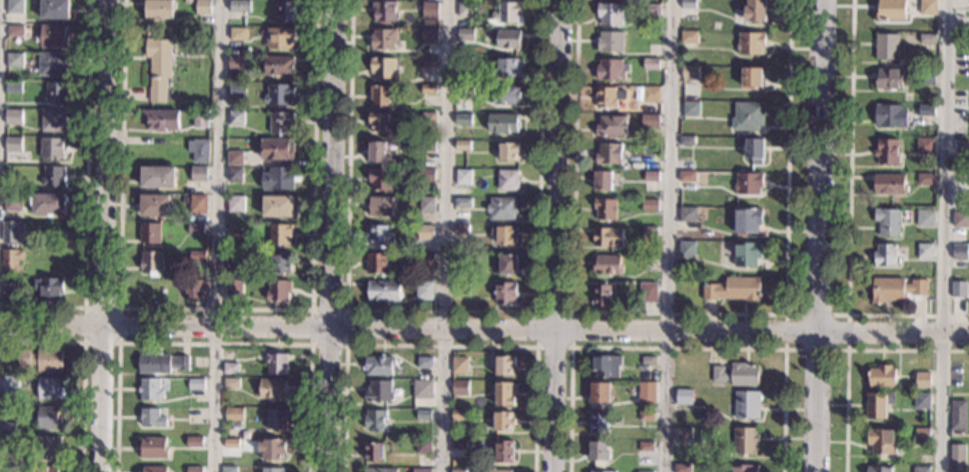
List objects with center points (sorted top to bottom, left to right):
building: (188, 2)
building: (689, 4)
building: (239, 6)
building: (14, 7)
building: (203, 7)
building: (925, 7)
building: (466, 8)
building: (54, 9)
building: (159, 9)
building: (652, 10)
building: (891, 10)
building: (284, 11)
building: (430, 11)
building: (755, 11)
building: (385, 12)
building: (509, 12)
building: (609, 14)
building: (14, 30)
building: (238, 33)
building: (465, 34)
building: (53, 36)
building: (430, 36)
building: (689, 37)
building: (280, 38)
building: (927, 38)
building: (383, 40)
building: (508, 40)
building: (609, 41)
building: (751, 43)
building: (887, 47)
building: (14, 60)
building: (237, 62)
building: (429, 63)
building: (53, 64)
building: (650, 64)
building: (464, 65)
building: (278, 66)
building: (158, 67)
building: (383, 67)
building: (507, 68)
building: (610, 70)
building: (689, 75)
building: (752, 77)
building: (926, 77)
building: (888, 79)
building: (13, 87)
building: (428, 89)
building: (464, 90)
building: (236, 91)
building: (56, 92)
building: (279, 94)
building: (505, 95)
building: (650, 95)
building: (380, 96)
building: (607, 98)
building: (691, 109)
building: (926, 111)
building: (748, 116)
building: (890, 116)
building: (13, 118)
building: (202, 118)
building: (236, 118)
building: (159, 120)
building: (464, 120)
building: (54, 121)
building: (429, 121)
building: (650, 121)
building: (281, 123)
building: (380, 123)
building: (502, 124)
building: (611, 126)
building: (686, 142)
building: (12, 145)
building: (463, 146)
building: (429, 147)
building: (925, 147)
building: (51, 148)
building: (962, 149)
building: (278, 150)
building: (198, 151)
building: (755, 152)
building: (377, 153)
building: (508, 153)
building: (887, 153)
building: (608, 155)
building: (235, 158)
building: (198, 175)
building: (235, 175)
building: (427, 175)
building: (651, 177)
building: (686, 177)
building: (53, 178)
building: (158, 178)
building: (464, 178)
building: (278, 180)
building: (381, 180)
building: (927, 180)
building: (508, 181)
building: (602, 181)
building: (748, 184)
building: (888, 185)
road: (85, 195)
building: (12, 202)
building: (463, 203)
building: (48, 204)
building: (199, 204)
building: (235, 204)
building: (428, 205)
building: (649, 206)
building: (154, 207)
building: (382, 207)
building: (277, 208)
building: (501, 209)
building: (605, 210)
building: (687, 216)
road: (848, 218)
building: (926, 219)
building: (748, 221)
building: (891, 221)
building: (961, 221)
building: (196, 229)
building: (233, 229)
building: (462, 230)
building: (11, 232)
building: (649, 232)
building: (426, 233)
building: (149, 235)
road: (217, 235)
building: (279, 235)
building: (505, 235)
road: (556, 235)
road: (667, 235)
road: (102, 236)
road: (332, 236)
road: (444, 236)
road: (818, 236)
road: (946, 236)
building: (379, 237)
building: (608, 237)
building: (686, 250)
building: (925, 252)
building: (960, 252)
building: (747, 254)
building: (887, 256)
building: (197, 257)
building: (427, 258)
building: (11, 259)
building: (233, 261)
building: (151, 264)
building: (282, 264)
building: (377, 265)
building: (507, 265)
building: (607, 266)
building: (8, 284)
building: (233, 288)
building: (49, 289)
building: (460, 289)
building: (196, 290)
building: (959, 290)
building: (733, 291)
building: (897, 291)
building: (278, 292)
building: (384, 292)
building: (425, 292)
building: (505, 294)
building: (648, 294)
building: (602, 296)
road: (118, 307)
road: (215, 308)
road: (346, 310)
road: (442, 310)
road: (571, 312)
road: (679, 313)
road: (847, 315)
road: (484, 331)
road: (213, 343)
road: (439, 345)
road: (676, 348)
road: (846, 350)
building: (41, 359)
building: (648, 360)
building: (275, 362)
building: (161, 363)
building: (424, 363)
road: (82, 365)
building: (459, 365)
building: (378, 366)
building: (504, 366)
building: (606, 367)
building: (230, 368)
building: (737, 375)
building: (881, 377)
building: (923, 381)
building: (230, 383)
building: (195, 384)
building: (9, 385)
building: (49, 388)
building: (459, 388)
building: (646, 388)
building: (271, 389)
building: (148, 390)
building: (422, 390)
building: (379, 392)
building: (600, 393)
building: (503, 394)
building: (683, 398)
building: (921, 401)
building: (746, 405)
building: (877, 406)
building: (458, 414)
building: (423, 416)
building: (646, 416)
building: (958, 416)
building: (232, 417)
building: (48, 418)
building: (151, 419)
building: (275, 419)
building: (376, 420)
building: (502, 422)
building: (598, 422)
building: (7, 428)
building: (683, 432)
building: (922, 436)
building: (745, 441)
building: (193, 442)
building: (880, 442)
building: (7, 443)
building: (230, 443)
building: (459, 444)
building: (423, 446)
building: (47, 447)
building: (152, 447)
building: (645, 448)
building: (271, 449)
building: (374, 451)
building: (500, 452)
building: (598, 454)
building: (957, 458)
building: (743, 467)
building: (46, 468)
building: (681, 468)
building: (152, 469)
building: (193, 469)
building: (228, 469)
building: (878, 469)
building: (920, 469)
building: (271, 470)
building: (379, 470)
building: (421, 470)
building: (458, 471)
building: (497, 471)
building: (603, 471)
building: (642, 471)

